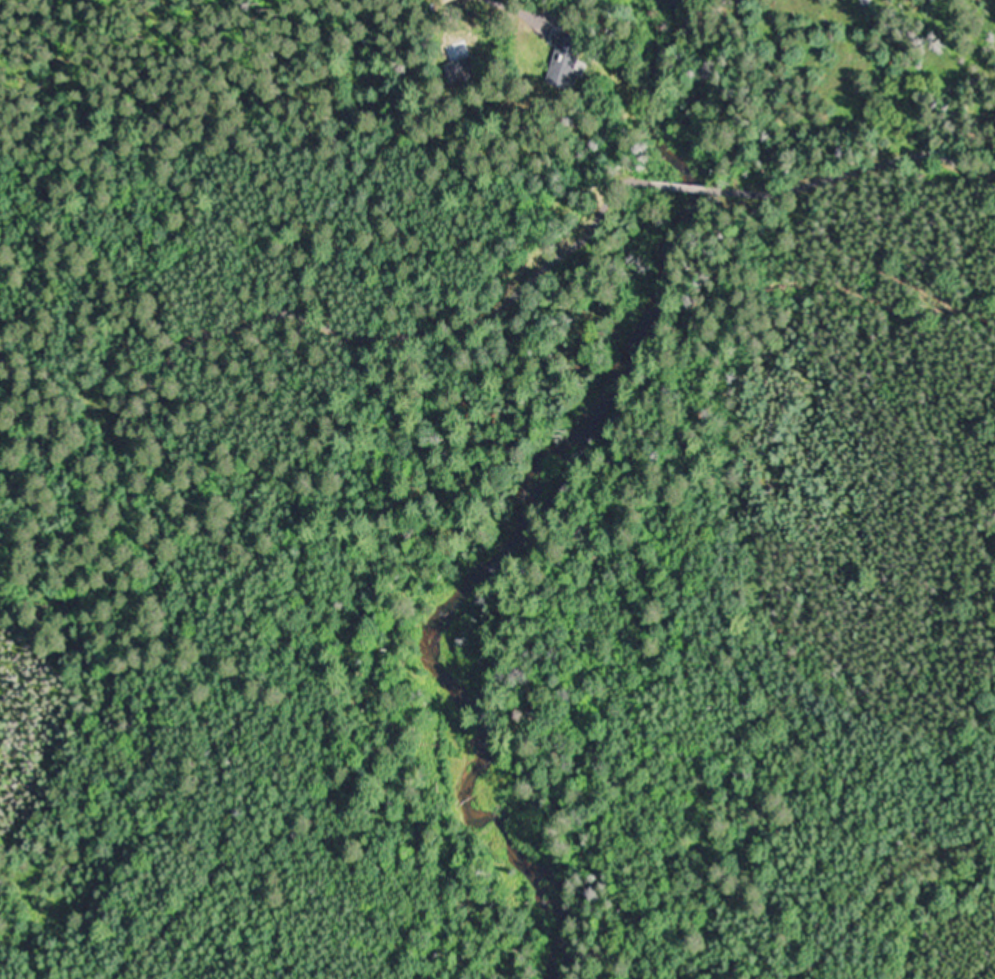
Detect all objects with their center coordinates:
building: (572, 66)
building: (468, 72)
road: (679, 187)

